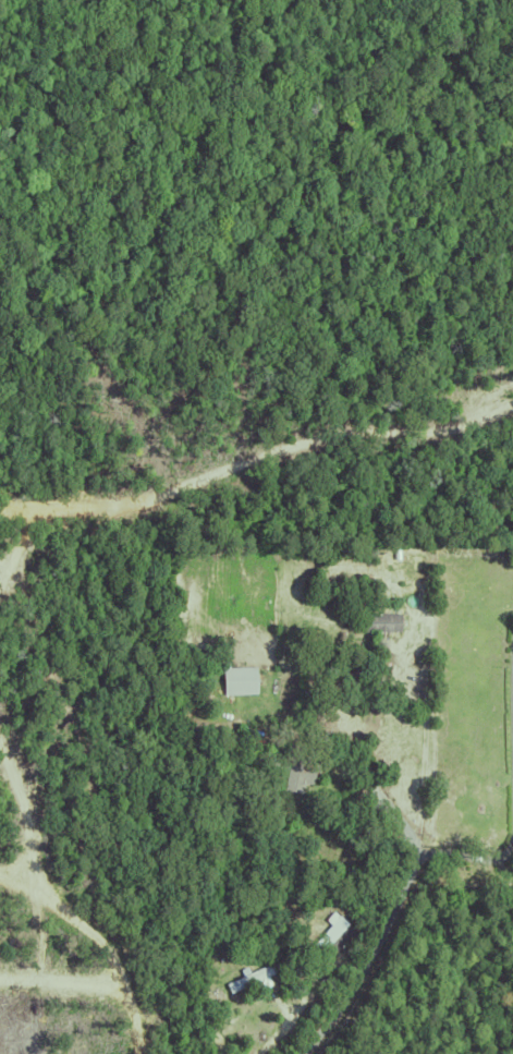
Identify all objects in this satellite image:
building: (381, 622)
building: (236, 676)
building: (303, 692)
road: (422, 737)
building: (295, 771)
road: (509, 777)
road: (511, 779)
road: (407, 883)
building: (323, 931)
building: (248, 976)
building: (186, 1020)

